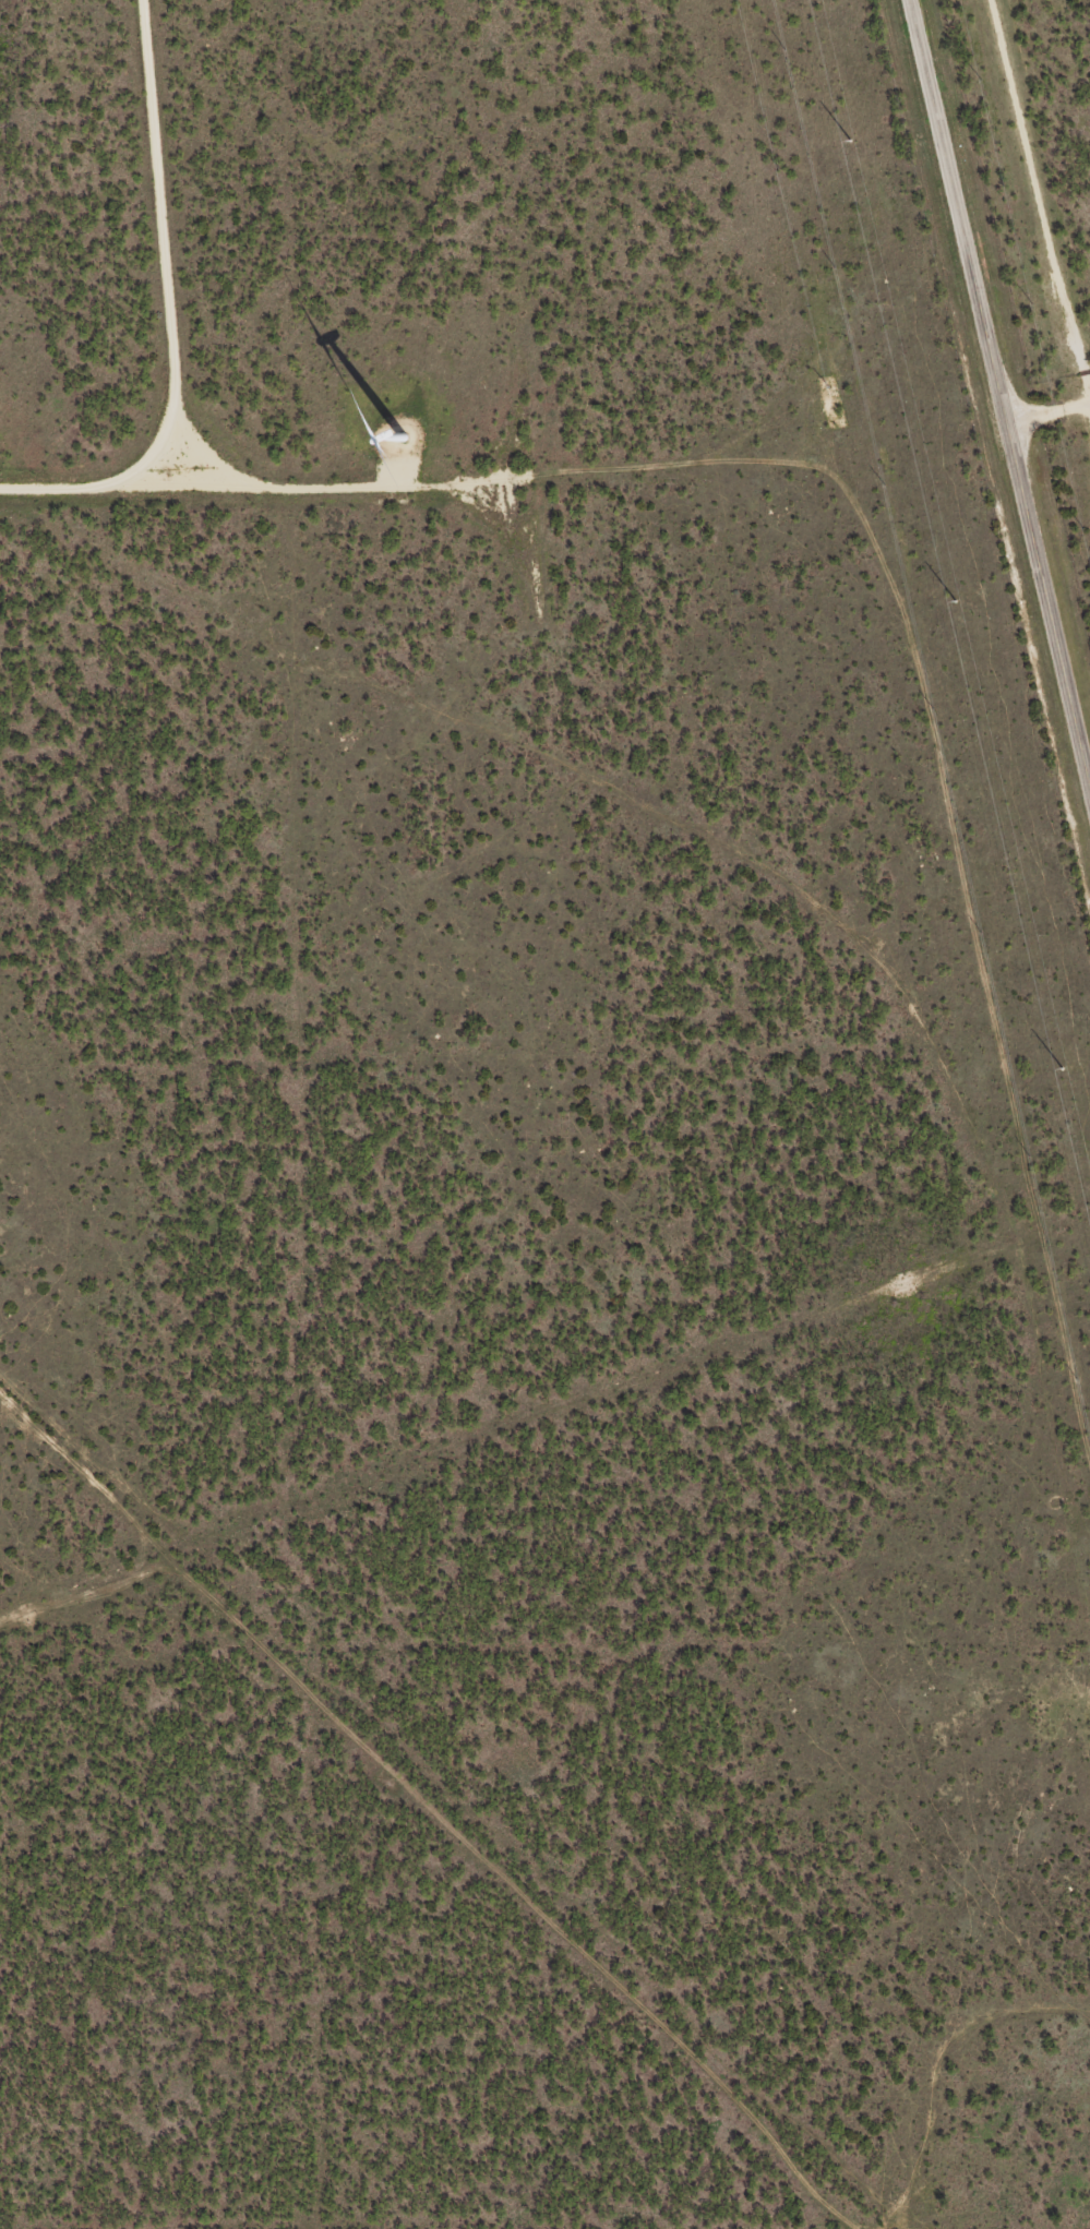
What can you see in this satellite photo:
power tower: (847, 141)
road: (990, 420)
wind turbine: (397, 431)
power tower: (954, 601)
road: (728, 864)
power tower: (1058, 1069)
road: (416, 1832)
road: (1054, 1844)
road: (946, 2088)

